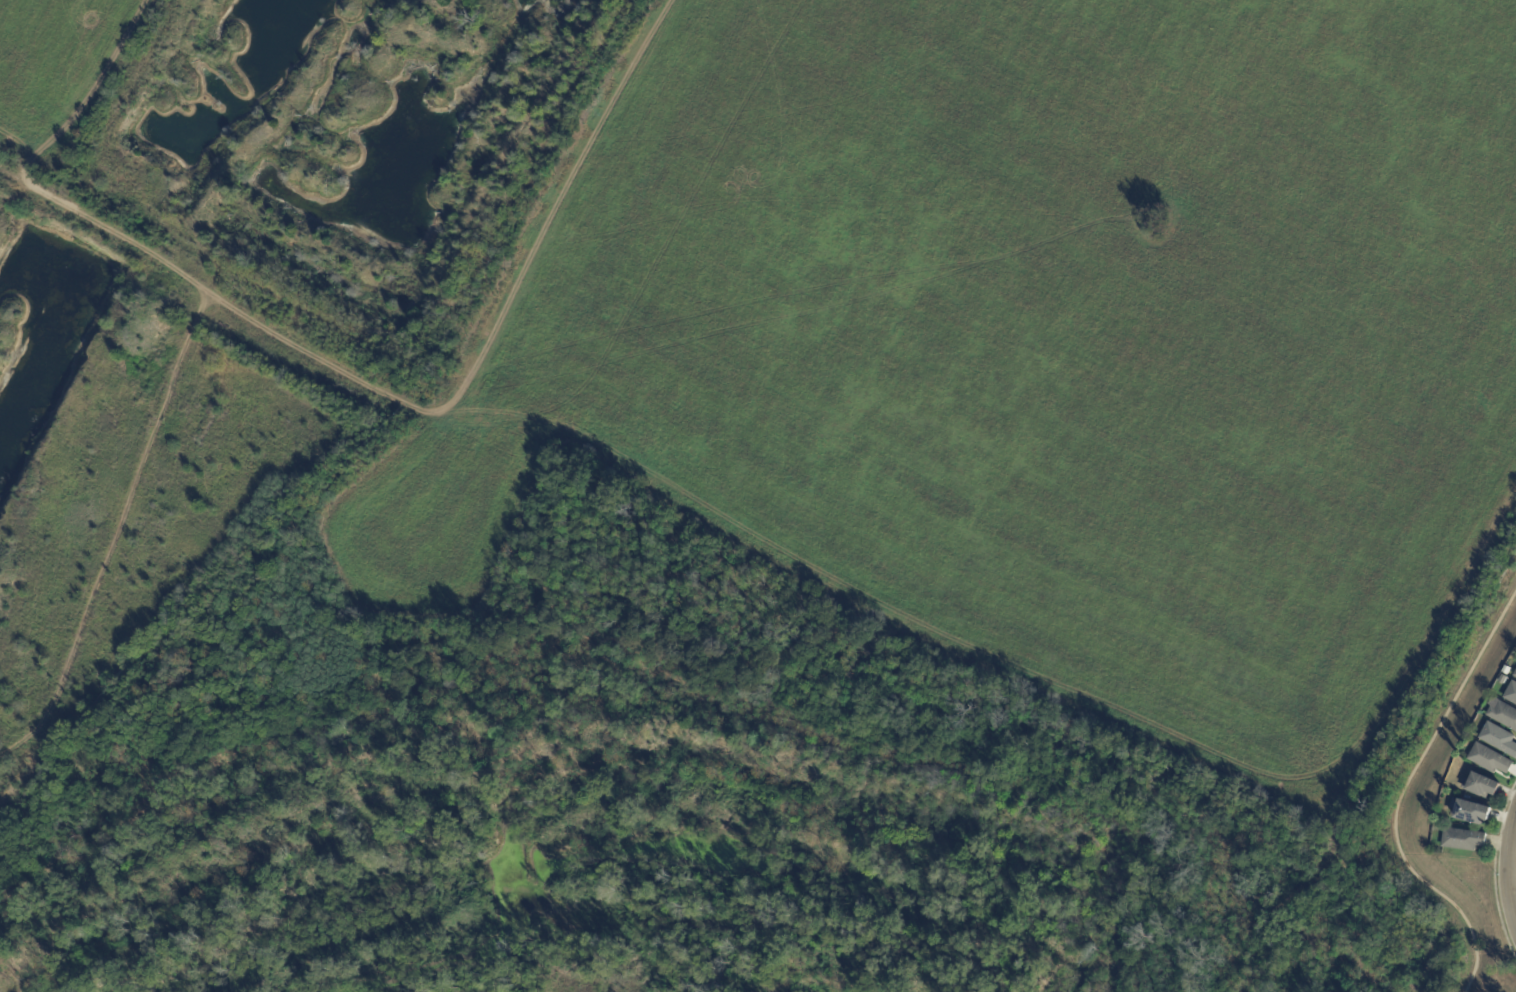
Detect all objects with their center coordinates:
building: (1515, 673)
building: (1501, 679)
building: (1511, 692)
building: (1503, 714)
building: (1499, 738)
building: (1489, 758)
building: (1479, 784)
building: (1469, 810)
building: (1462, 839)
road: (1458, 861)
road: (1509, 873)
park: (1472, 950)

